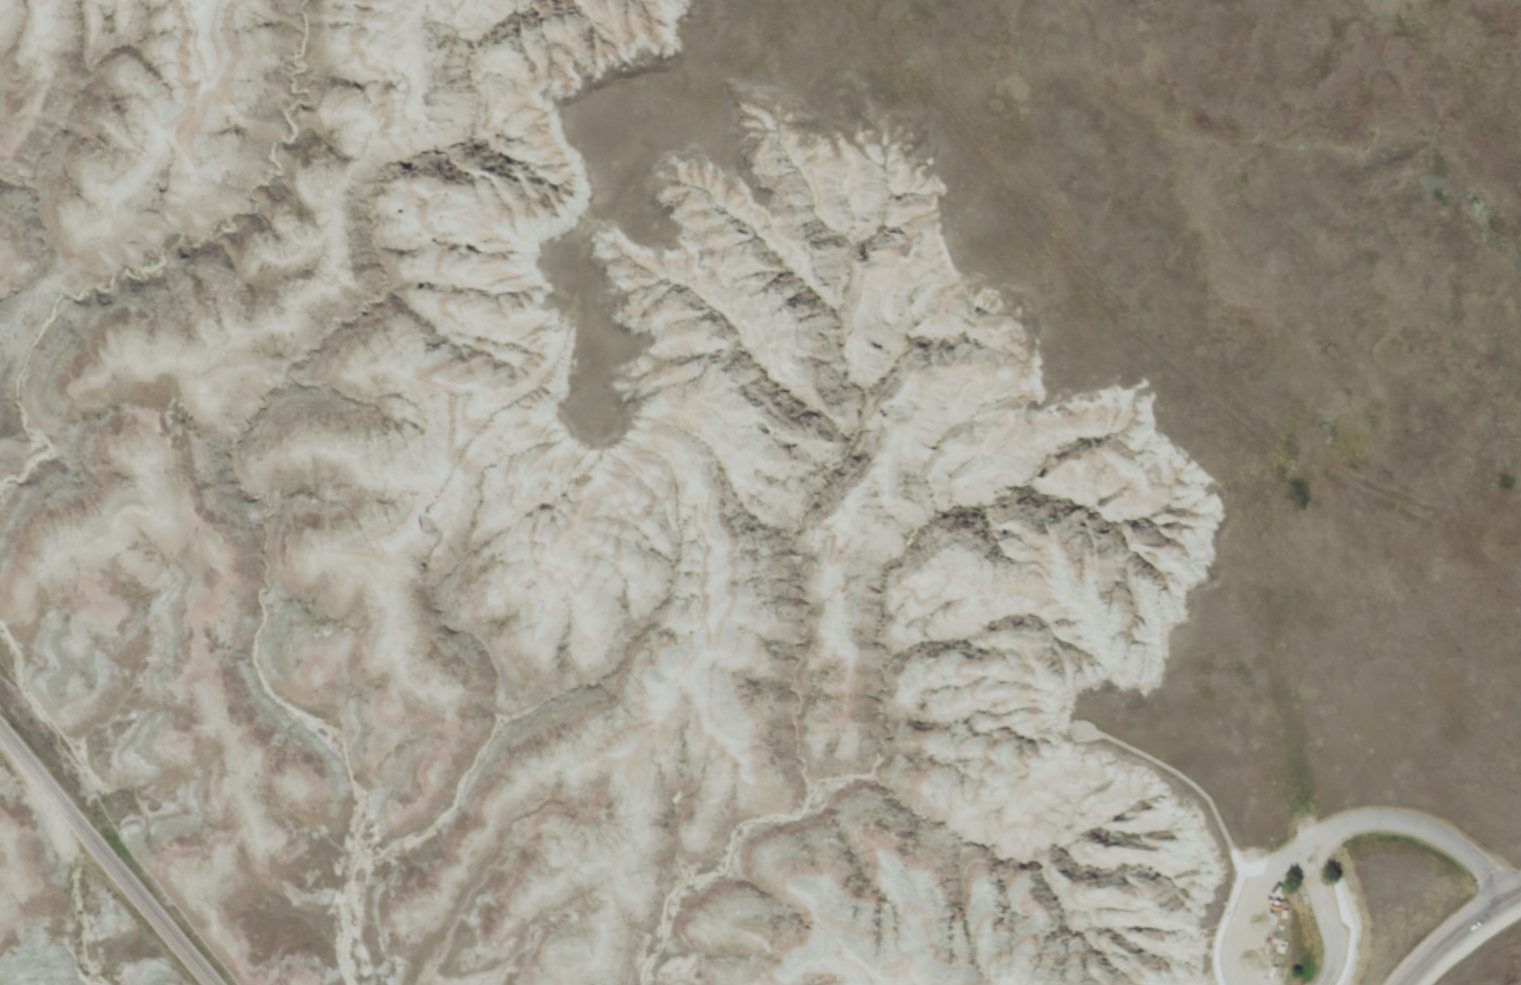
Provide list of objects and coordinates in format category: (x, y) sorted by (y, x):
road: (12, 749)
road: (1189, 778)
road: (1415, 819)
road: (1295, 843)
road: (115, 875)
parking lot: (1277, 913)
road: (1453, 924)

